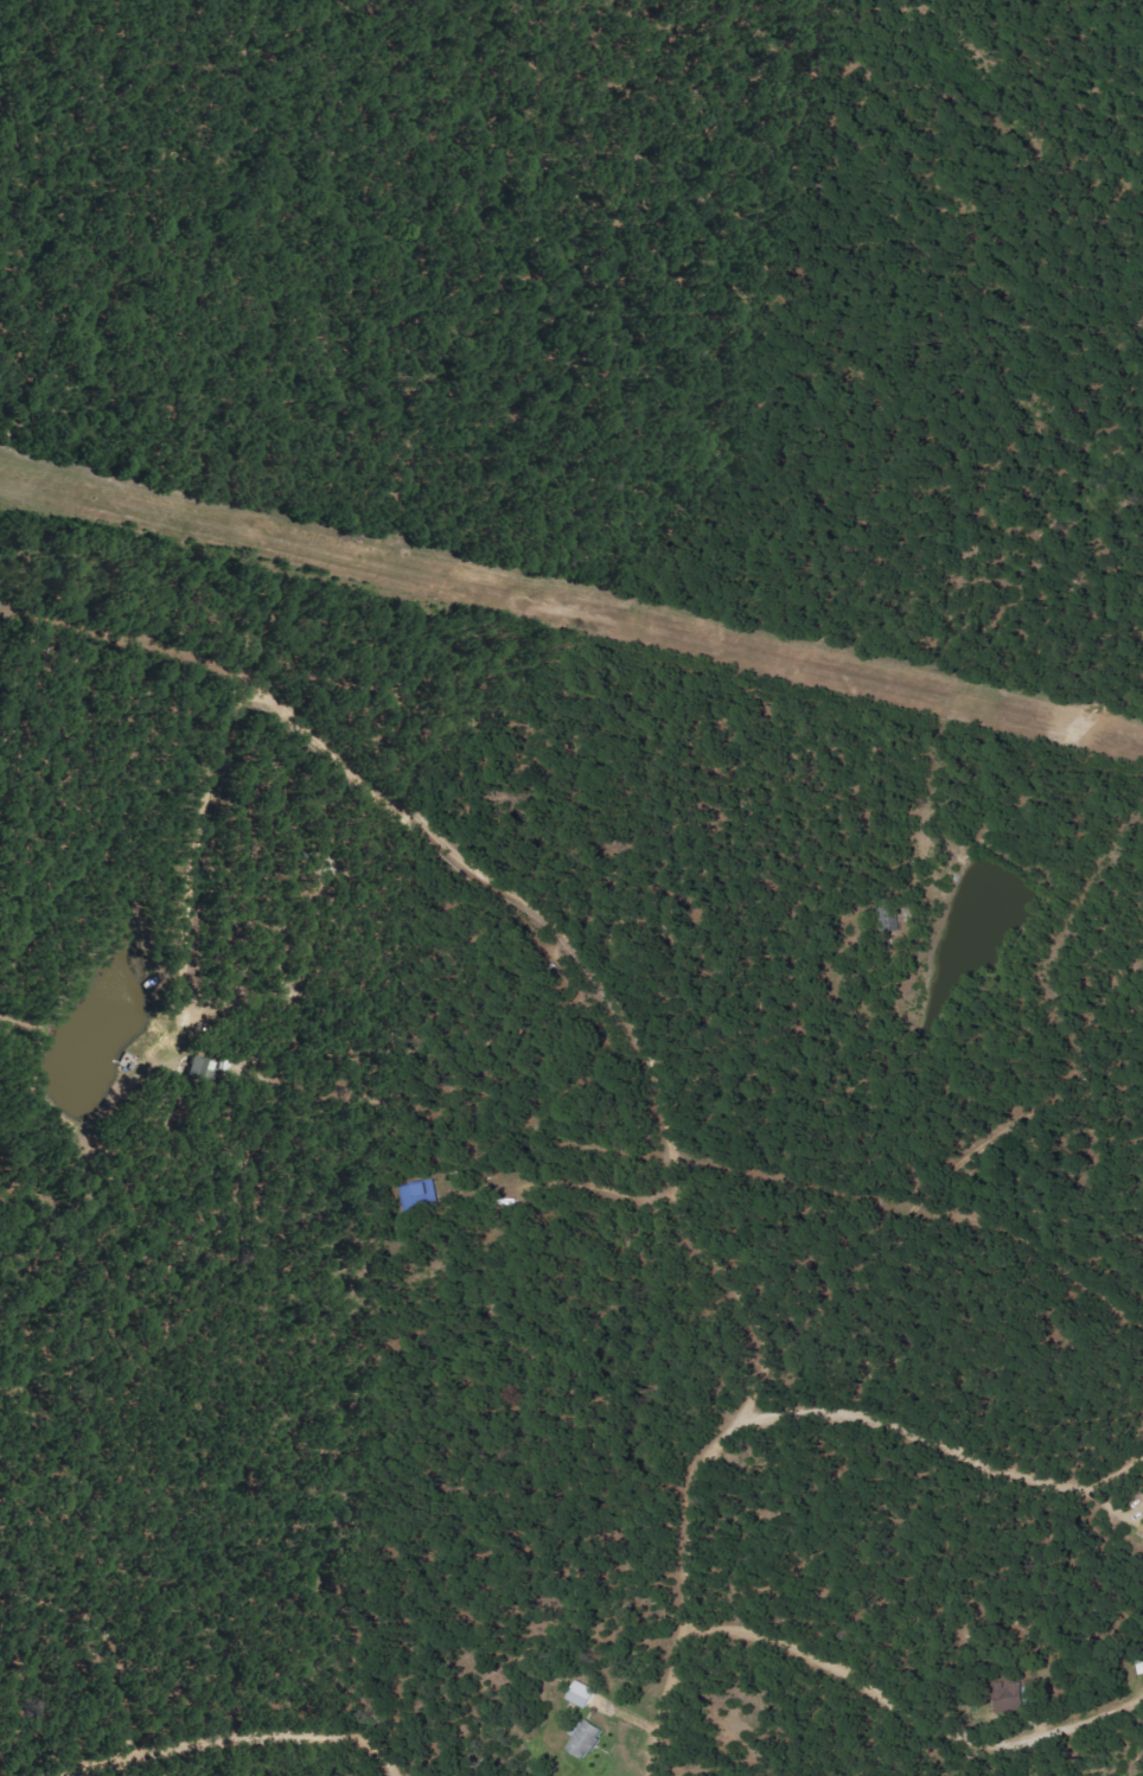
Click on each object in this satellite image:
road: (477, 899)
road: (954, 1439)
road: (687, 1580)
road: (424, 1638)
building: (582, 1695)
road: (907, 1711)
road: (234, 1733)
building: (587, 1738)
road: (145, 1761)

